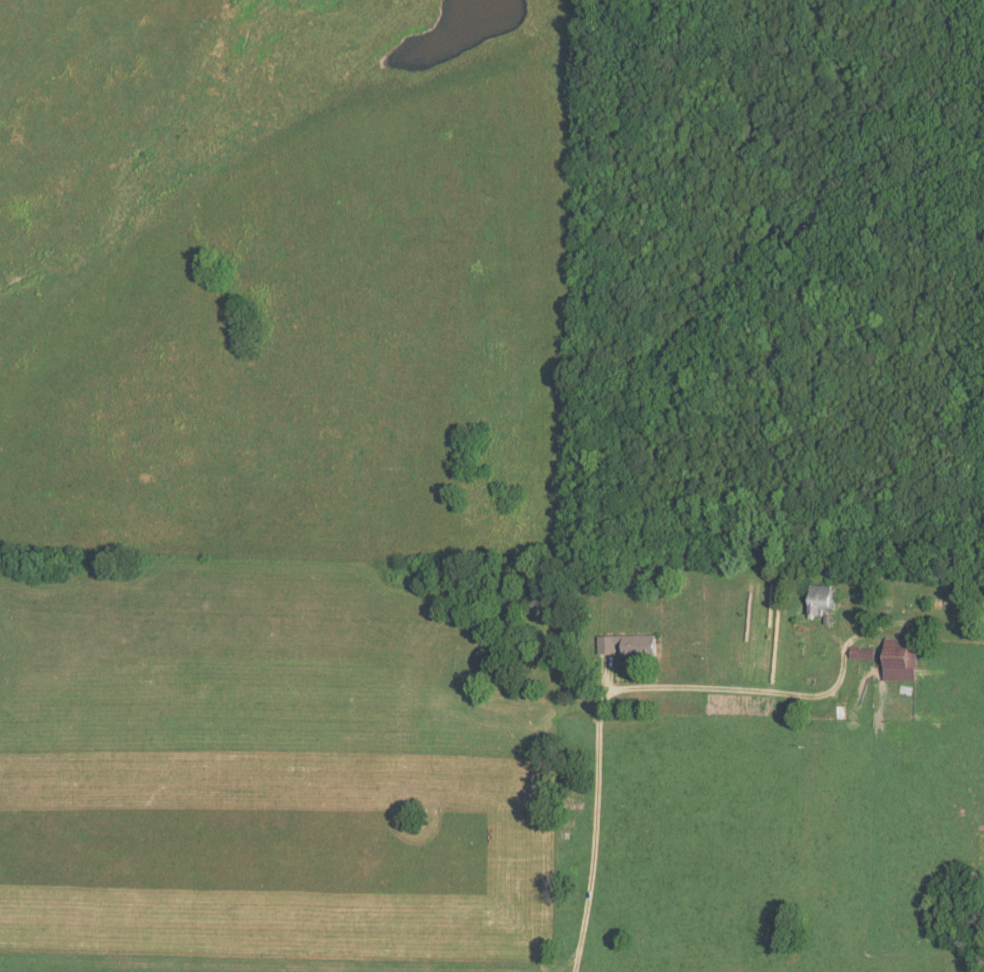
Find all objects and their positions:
building: (821, 598)
building: (628, 646)
building: (902, 659)
road: (592, 818)

